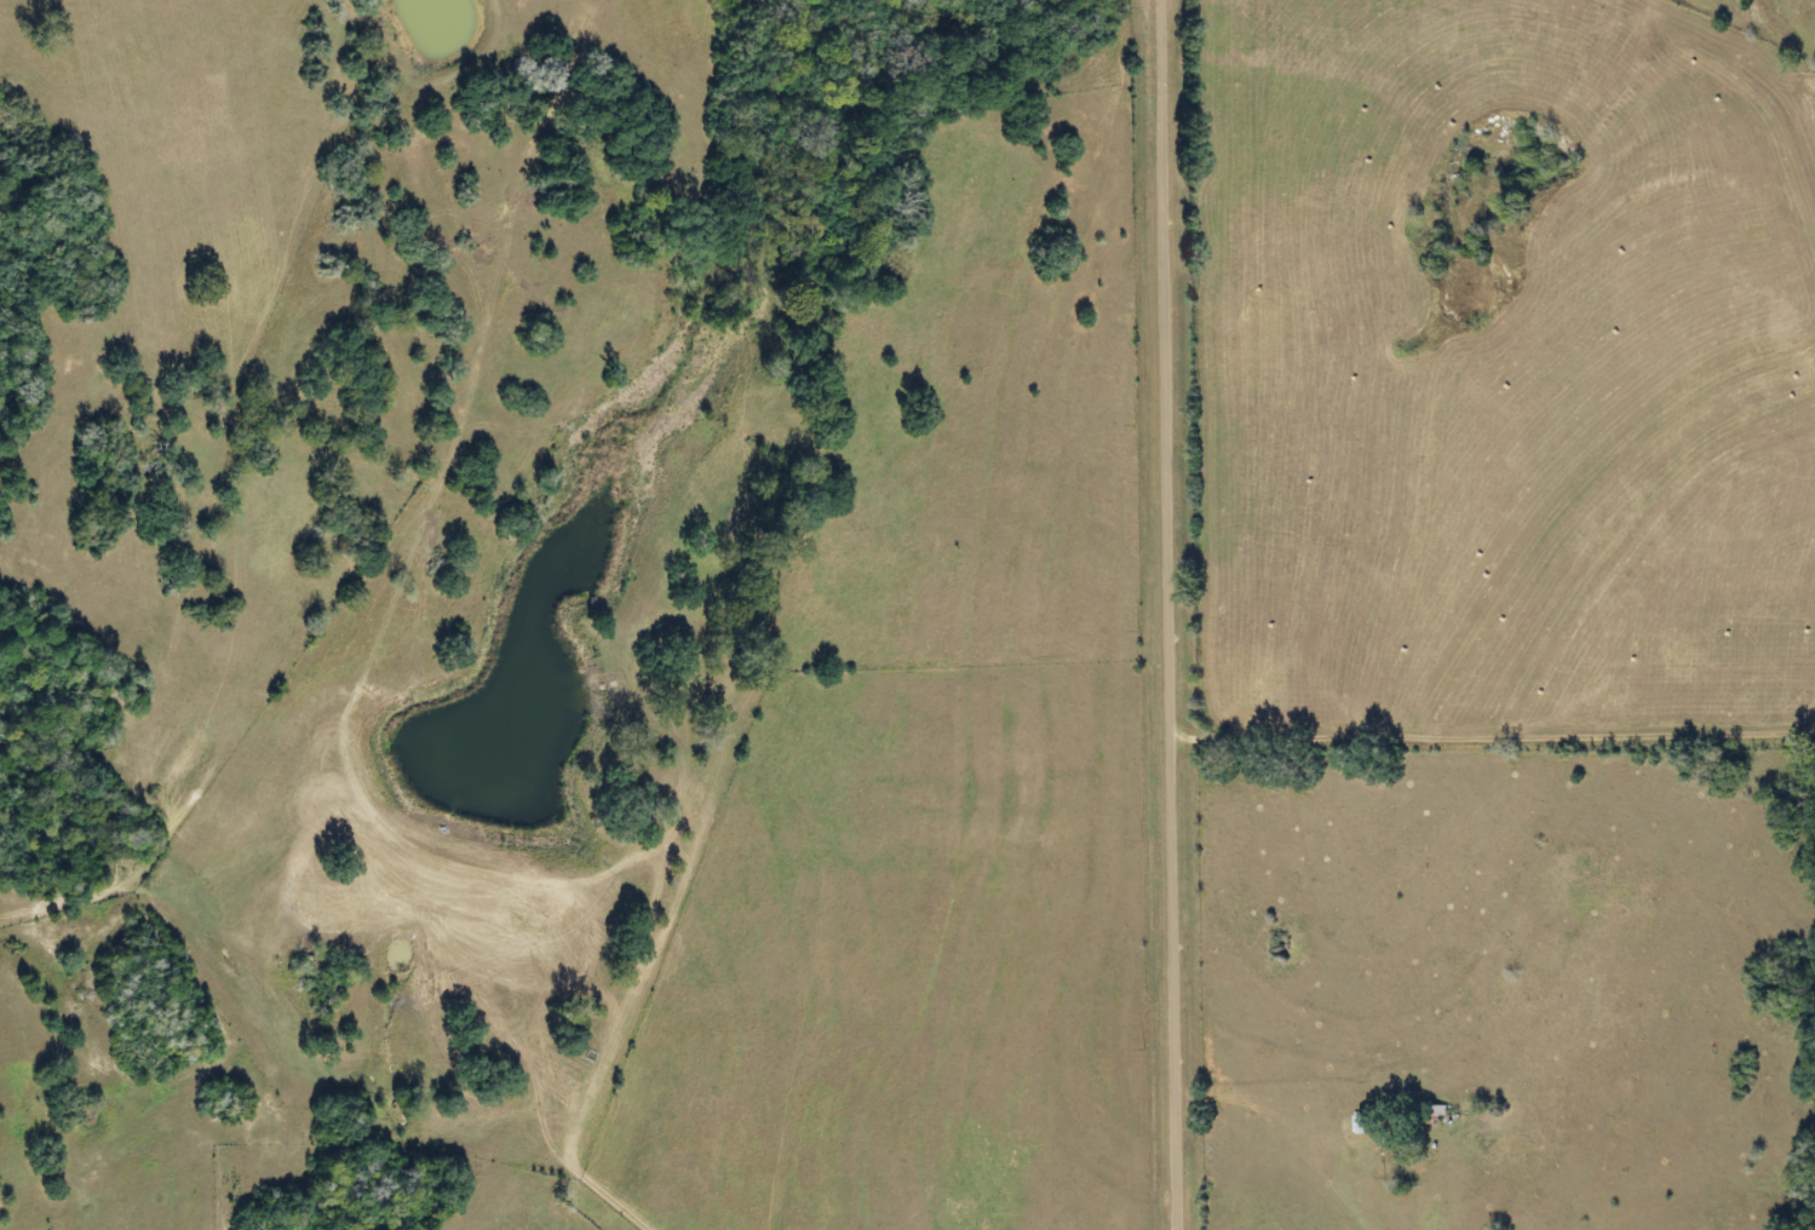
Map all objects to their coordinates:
road: (1171, 615)
building: (1367, 1122)

